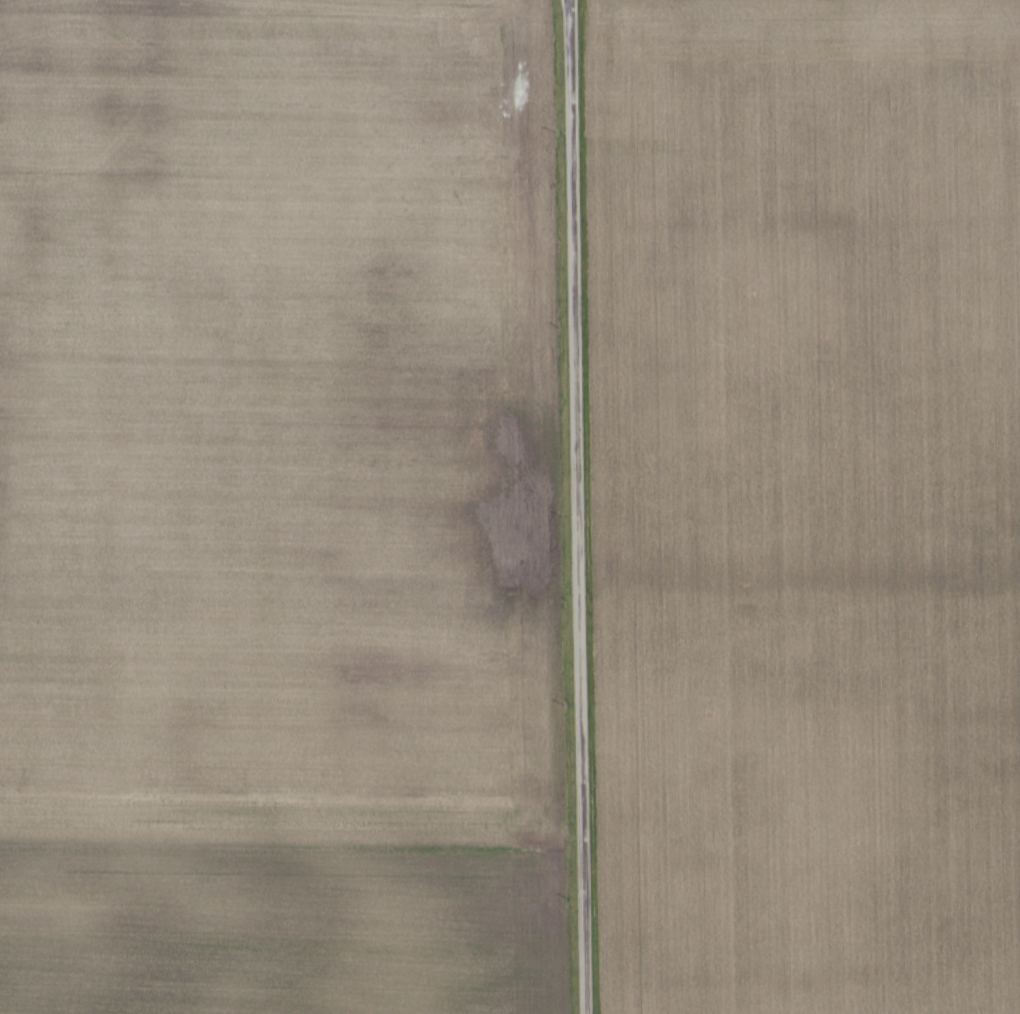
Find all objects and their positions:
road: (574, 507)

